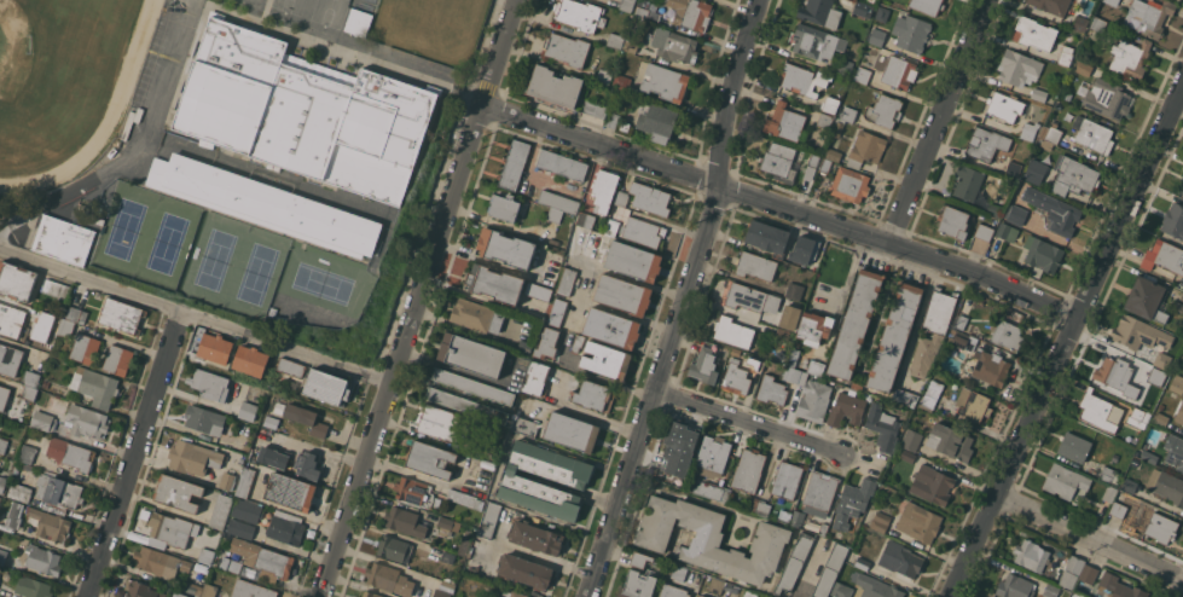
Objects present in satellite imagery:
building: (1112, 1)
building: (627, 5)
building: (1051, 5)
building: (927, 6)
building: (860, 7)
building: (646, 10)
building: (819, 12)
building: (691, 13)
building: (881, 13)
building: (579, 15)
building: (1148, 16)
building: (358, 21)
building: (1080, 23)
building: (1097, 27)
building: (910, 33)
building: (1034, 33)
building: (877, 36)
building: (615, 40)
building: (813, 41)
building: (674, 45)
building: (630, 46)
building: (566, 48)
building: (1066, 56)
building: (1129, 58)
building: (845, 66)
building: (1017, 68)
building: (1084, 68)
building: (899, 73)
building: (862, 75)
building: (604, 76)
building: (800, 80)
building: (621, 81)
building: (665, 81)
building: (555, 87)
building: (1039, 93)
building: (1107, 98)
building: (830, 104)
building: (1004, 105)
building: (595, 109)
building: (885, 111)
building: (305, 112)
building: (846, 115)
building: (613, 118)
building: (824, 120)
road: (939, 121)
building: (657, 122)
building: (784, 122)
building: (836, 129)
building: (1028, 131)
building: (1092, 134)
building: (1049, 137)
building: (985, 144)
road: (134, 146)
building: (865, 149)
building: (833, 153)
building: (778, 158)
building: (811, 158)
building: (512, 163)
building: (562, 163)
building: (825, 164)
building: (1014, 169)
building: (1036, 170)
building: (1073, 175)
building: (807, 176)
building: (968, 181)
building: (849, 185)
building: (1181, 186)
building: (604, 189)
building: (621, 197)
building: (650, 198)
building: (558, 201)
building: (266, 204)
building: (504, 207)
road: (781, 207)
building: (994, 209)
building: (1054, 210)
building: (555, 214)
building: (1015, 214)
building: (585, 219)
building: (1173, 220)
building: (955, 221)
building: (611, 227)
building: (984, 231)
building: (643, 232)
building: (1007, 232)
building: (767, 237)
building: (63, 239)
building: (505, 248)
building: (587, 248)
building: (804, 249)
building: (1043, 255)
building: (1164, 256)
building: (633, 261)
building: (553, 265)
building: (756, 266)
building: (16, 280)
building: (566, 280)
building: (494, 283)
building: (57, 289)
building: (795, 290)
building: (538, 291)
building: (98, 294)
building: (622, 295)
road: (419, 297)
building: (750, 297)
building: (1146, 298)
road: (686, 300)
building: (1178, 306)
building: (557, 312)
building: (76, 314)
building: (121, 315)
road: (196, 315)
building: (476, 315)
building: (790, 317)
building: (47, 319)
building: (11, 320)
building: (961, 321)
building: (856, 324)
building: (66, 328)
building: (611, 328)
building: (814, 328)
building: (933, 330)
building: (732, 331)
building: (1138, 332)
building: (783, 334)
building: (1007, 334)
building: (894, 336)
building: (963, 341)
road: (1062, 341)
building: (546, 342)
building: (576, 343)
building: (524, 347)
building: (86, 348)
building: (215, 348)
building: (470, 354)
building: (793, 357)
building: (10, 359)
building: (118, 360)
building: (250, 360)
building: (605, 360)
building: (1162, 360)
building: (756, 363)
building: (706, 364)
building: (291, 367)
building: (816, 367)
building: (991, 367)
building: (1114, 372)
road: (598, 375)
building: (795, 375)
building: (1156, 376)
building: (735, 377)
building: (31, 378)
building: (537, 378)
building: (45, 382)
building: (210, 383)
building: (1177, 383)
building: (857, 384)
building: (95, 386)
building: (326, 386)
building: (472, 386)
building: (772, 390)
building: (932, 392)
building: (29, 393)
building: (4, 395)
building: (593, 395)
building: (905, 396)
building: (814, 400)
building: (973, 404)
building: (466, 405)
building: (279, 407)
building: (846, 408)
building: (248, 410)
building: (1096, 410)
building: (1179, 413)
building: (1138, 416)
building: (204, 418)
building: (306, 418)
building: (1160, 418)
building: (44, 419)
building: (86, 421)
building: (271, 421)
building: (441, 422)
road: (747, 422)
building: (524, 425)
building: (883, 427)
building: (570, 430)
building: (278, 437)
building: (911, 439)
building: (950, 441)
building: (2, 445)
building: (1074, 447)
building: (1175, 450)
building: (27, 453)
building: (71, 453)
building: (677, 453)
road: (135, 454)
building: (907, 454)
building: (713, 456)
building: (1148, 456)
building: (193, 457)
building: (273, 457)
building: (430, 458)
building: (307, 465)
building: (748, 470)
building: (1110, 475)
building: (2, 479)
building: (227, 480)
building: (518, 480)
building: (788, 480)
building: (1065, 481)
building: (245, 482)
building: (932, 483)
building: (1130, 485)
building: (1166, 485)
building: (18, 488)
building: (290, 491)
building: (711, 491)
building: (820, 491)
building: (58, 492)
building: (178, 492)
building: (413, 492)
building: (1109, 493)
building: (1127, 495)
building: (0, 497)
building: (465, 498)
building: (853, 502)
building: (752, 504)
building: (762, 508)
building: (1118, 508)
building: (248, 510)
building: (220, 511)
building: (15, 515)
building: (784, 515)
building: (796, 517)
building: (488, 520)
building: (404, 521)
building: (881, 521)
building: (1, 522)
building: (918, 522)
building: (48, 523)
building: (1156, 523)
building: (1132, 524)
building: (447, 526)
building: (285, 527)
building: (823, 527)
building: (172, 528)
building: (239, 528)
building: (537, 537)
building: (711, 539)
road: (1089, 539)
building: (465, 541)
building: (157, 543)
building: (393, 547)
building: (439, 552)
building: (2, 555)
road: (535, 555)
building: (1031, 555)
building: (205, 556)
building: (261, 556)
building: (900, 558)
building: (44, 560)
building: (642, 560)
building: (795, 561)
building: (160, 562)
building: (224, 562)
building: (863, 563)
building: (1075, 564)
building: (234, 566)
building: (526, 569)
building: (830, 570)
building: (679, 572)
building: (1089, 574)
building: (389, 579)
building: (1068, 579)
building: (193, 585)
building: (638, 585)
building: (717, 585)
building: (1015, 586)
building: (33, 587)
building: (843, 587)
building: (1117, 587)
building: (446, 589)
building: (141, 590)
building: (209, 590)
building: (251, 590)
building: (886, 590)
building: (1050, 590)
building: (673, 591)
building: (515, 593)
building: (749, 593)
building: (181, 595)
building: (371, 595)
building: (359, 596)
building: (702, 596)

